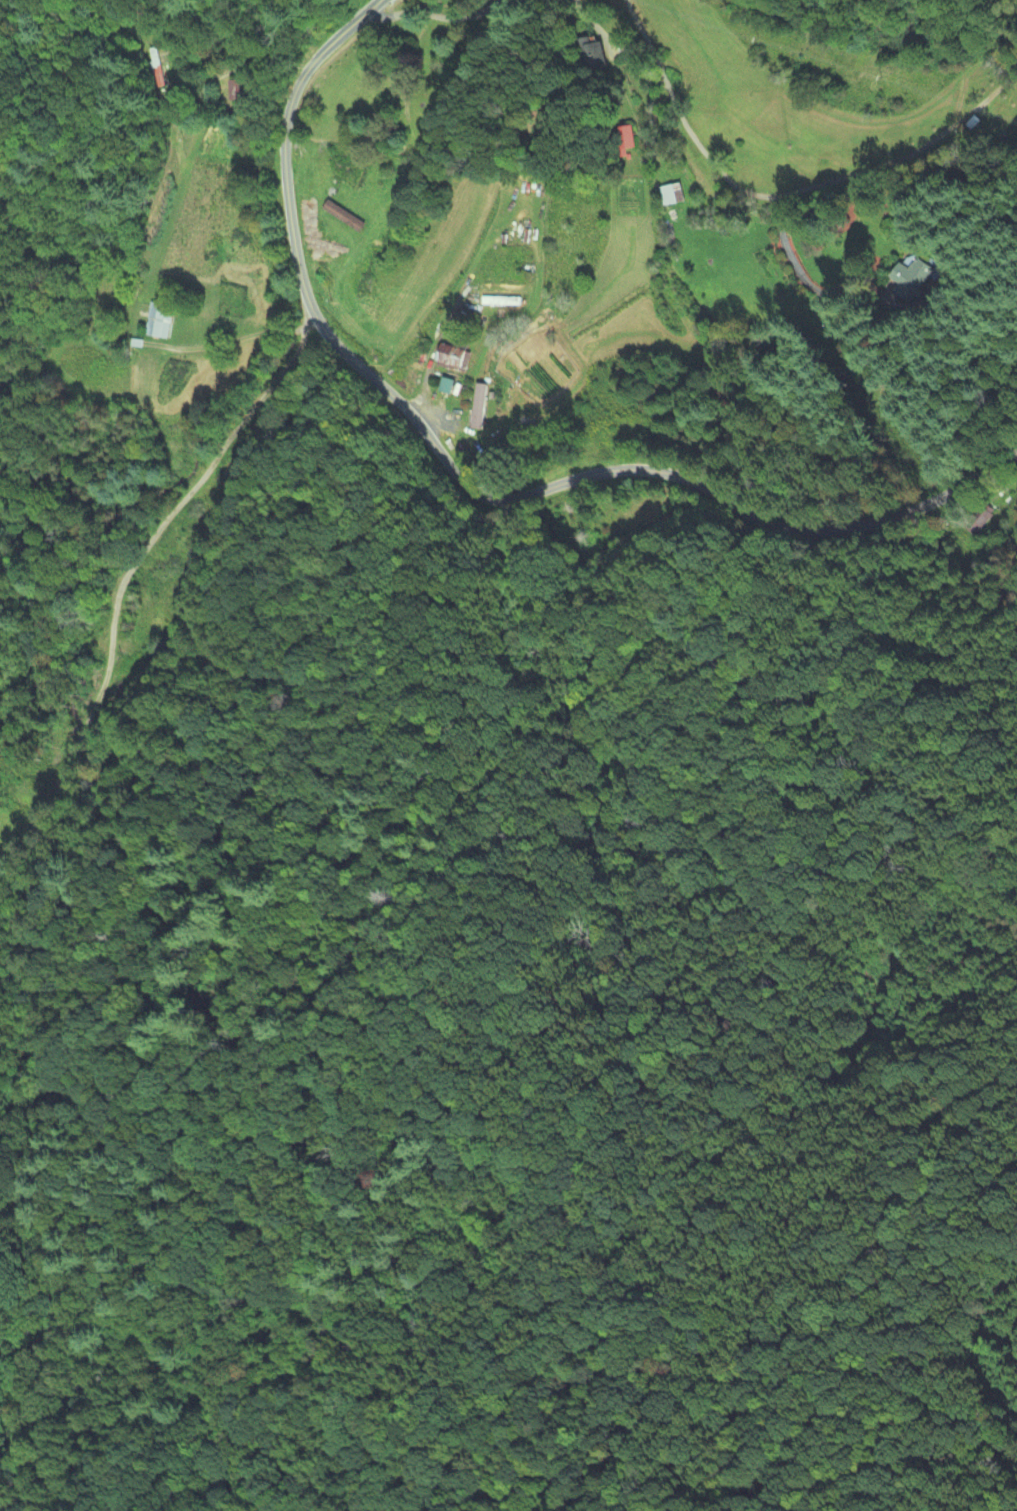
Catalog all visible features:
building: (602, 55)
building: (243, 91)
road: (285, 144)
building: (674, 195)
road: (768, 204)
building: (906, 283)
building: (162, 321)
road: (232, 340)
building: (457, 359)
building: (450, 386)
building: (483, 406)
road: (639, 469)
building: (979, 521)
road: (125, 579)

